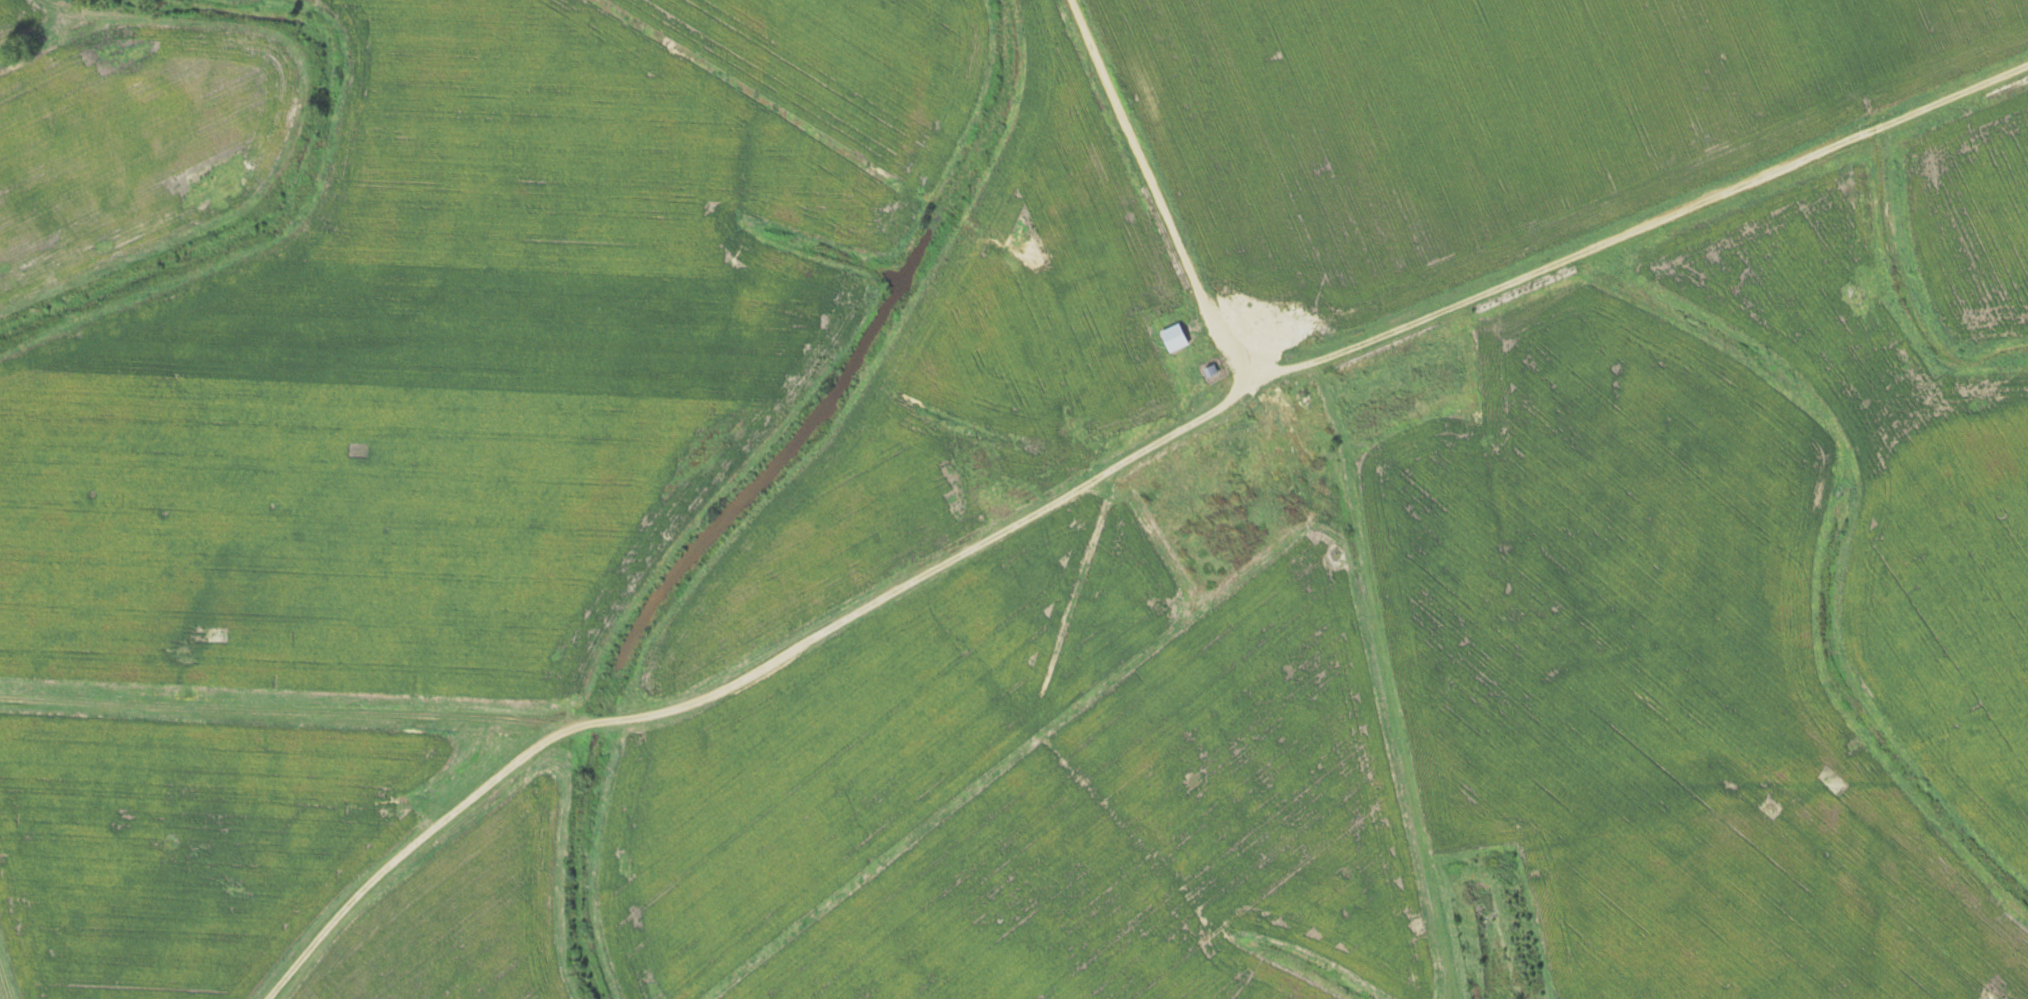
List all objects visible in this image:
road: (1163, 189)
building: (1172, 338)
road: (1035, 503)

